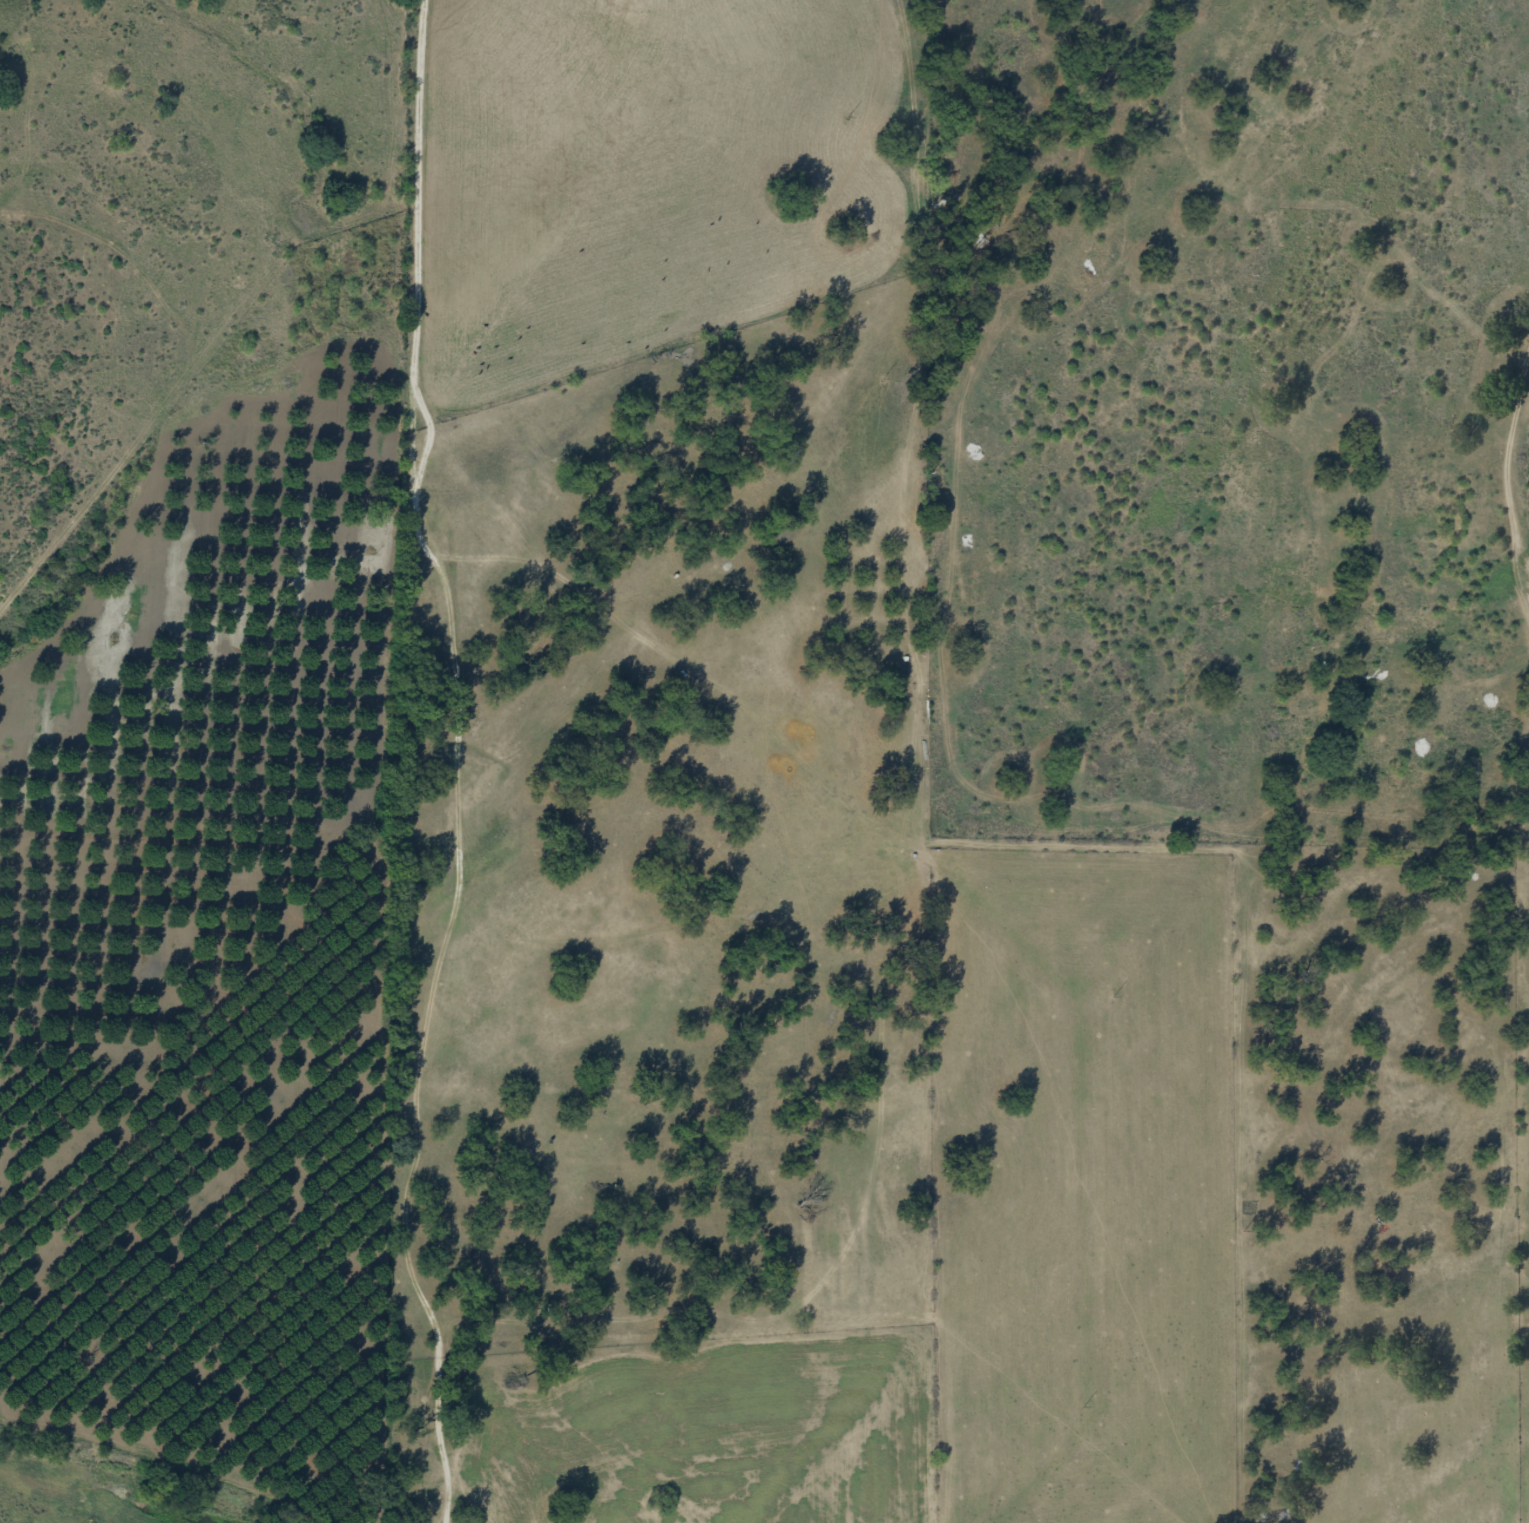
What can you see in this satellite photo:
road: (1455, 173)

